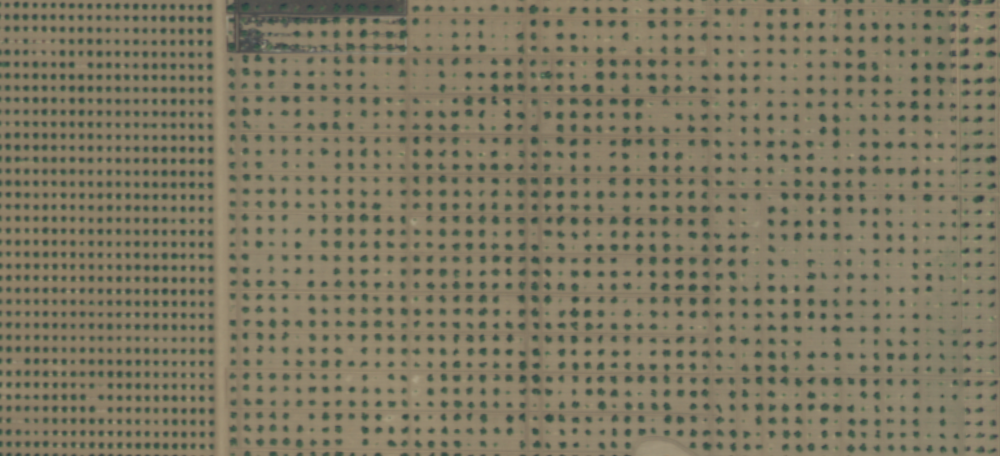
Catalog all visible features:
road: (216, 227)

